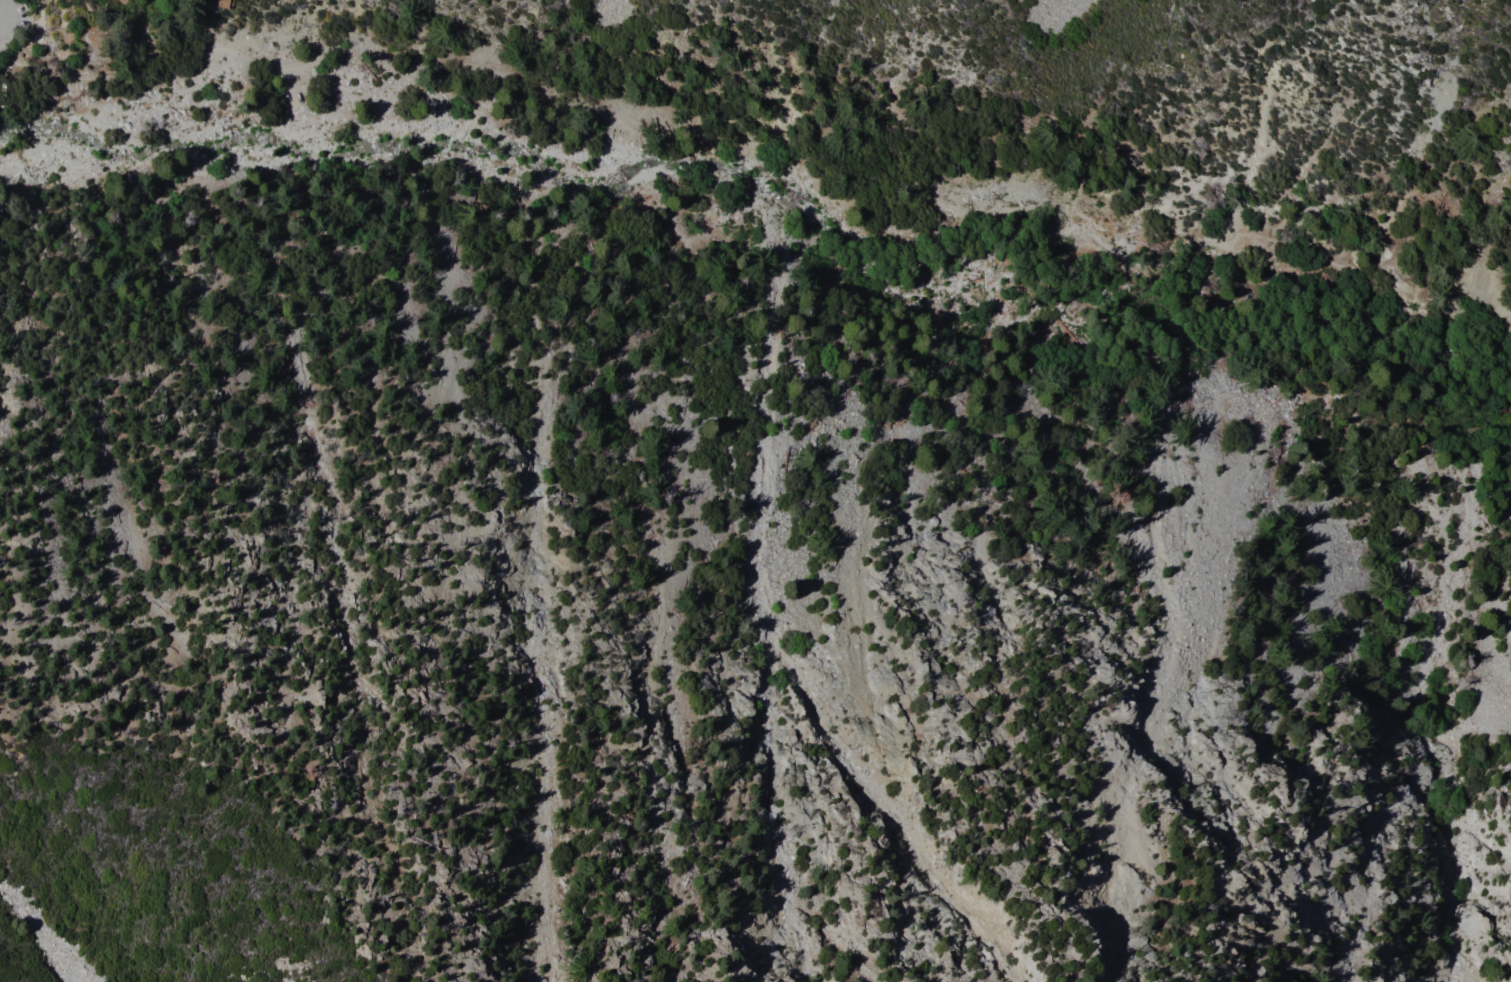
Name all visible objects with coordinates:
building: (221, 3)
parking lot: (15, 20)
building: (124, 43)
road: (3, 78)
road: (554, 90)
building: (578, 129)
building: (909, 187)
road: (1093, 227)
road: (1281, 248)
building: (987, 355)

